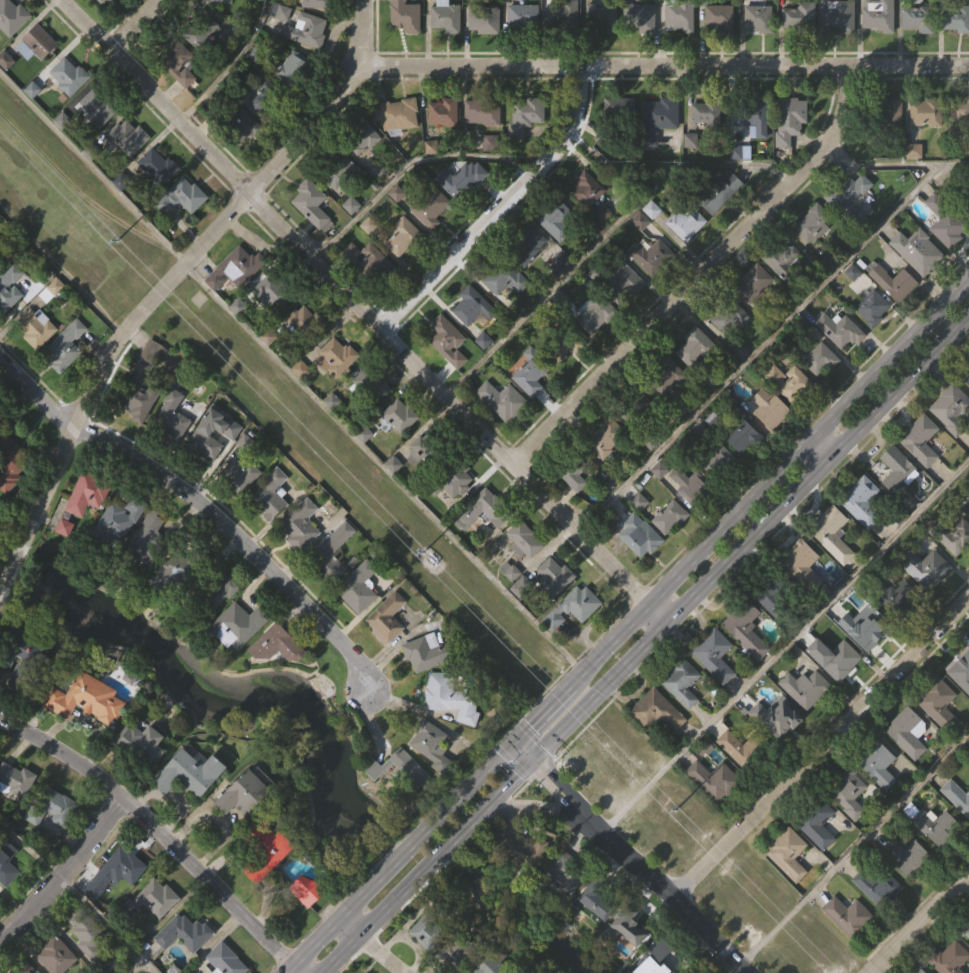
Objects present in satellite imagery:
building: (100, 1)
building: (216, 1)
building: (316, 4)
building: (282, 10)
building: (102, 14)
building: (562, 15)
building: (681, 15)
building: (878, 15)
building: (405, 16)
building: (445, 16)
building: (838, 16)
building: (11, 17)
building: (600, 17)
building: (638, 17)
building: (719, 17)
building: (758, 17)
building: (800, 17)
building: (521, 18)
building: (918, 18)
building: (483, 19)
building: (956, 19)
building: (221, 21)
road: (131, 24)
building: (199, 28)
building: (306, 30)
road: (365, 34)
building: (407, 41)
building: (38, 42)
building: (283, 43)
building: (639, 43)
building: (563, 44)
building: (881, 46)
building: (525, 47)
building: (682, 47)
building: (801, 47)
building: (13, 48)
building: (448, 48)
building: (605, 48)
building: (841, 48)
building: (721, 49)
building: (760, 49)
building: (920, 50)
building: (957, 50)
building: (486, 52)
building: (176, 60)
building: (310, 61)
building: (204, 62)
road: (229, 65)
building: (294, 68)
road: (373, 68)
building: (42, 73)
building: (68, 76)
building: (181, 92)
building: (267, 97)
building: (295, 98)
building: (76, 105)
building: (94, 109)
building: (483, 111)
building: (623, 112)
building: (927, 112)
building: (443, 113)
building: (706, 113)
building: (659, 114)
building: (752, 114)
building: (893, 114)
building: (395, 115)
building: (525, 116)
building: (958, 117)
building: (789, 120)
building: (241, 126)
building: (266, 129)
building: (127, 137)
building: (362, 137)
building: (98, 140)
building: (621, 140)
building: (894, 143)
building: (445, 144)
building: (485, 144)
building: (928, 144)
building: (967, 144)
building: (708, 145)
building: (399, 146)
building: (528, 147)
building: (755, 149)
building: (660, 150)
building: (792, 151)
building: (247, 155)
road: (675, 162)
road: (893, 164)
road: (95, 165)
road: (405, 167)
building: (156, 168)
building: (336, 168)
building: (129, 169)
building: (366, 169)
building: (693, 172)
building: (433, 178)
building: (461, 180)
building: (915, 182)
building: (719, 194)
building: (181, 197)
building: (591, 197)
building: (160, 198)
building: (341, 202)
building: (838, 203)
building: (312, 205)
building: (431, 206)
road: (500, 209)
building: (462, 210)
building: (556, 220)
building: (811, 222)
building: (686, 223)
building: (723, 225)
building: (946, 226)
building: (593, 227)
building: (184, 228)
building: (851, 229)
building: (313, 234)
building: (403, 236)
building: (433, 239)
power tower: (117, 241)
building: (653, 241)
building: (526, 245)
building: (559, 250)
building: (919, 252)
building: (689, 253)
building: (650, 257)
building: (814, 257)
building: (950, 261)
building: (368, 263)
building: (784, 264)
building: (404, 267)
building: (235, 269)
road: (697, 274)
building: (503, 276)
building: (529, 277)
road: (560, 279)
building: (616, 281)
building: (894, 281)
building: (753, 282)
building: (919, 282)
building: (9, 286)
building: (652, 287)
building: (784, 289)
building: (51, 290)
building: (367, 291)
building: (271, 292)
building: (563, 295)
building: (237, 300)
road: (353, 303)
building: (854, 303)
building: (471, 305)
building: (872, 308)
building: (507, 309)
building: (623, 311)
building: (595, 312)
building: (729, 313)
building: (896, 314)
building: (756, 315)
building: (11, 319)
building: (305, 322)
building: (274, 325)
building: (35, 327)
building: (843, 330)
building: (472, 336)
building: (556, 339)
building: (874, 339)
building: (447, 340)
building: (65, 345)
building: (596, 345)
building: (693, 346)
road: (757, 346)
building: (733, 347)
building: (304, 351)
building: (335, 356)
building: (820, 358)
building: (38, 359)
building: (842, 361)
road: (893, 361)
building: (531, 371)
building: (450, 372)
building: (714, 373)
building: (665, 374)
building: (966, 375)
building: (69, 377)
building: (695, 377)
building: (138, 378)
building: (563, 378)
building: (791, 383)
building: (368, 384)
road: (900, 387)
building: (339, 389)
building: (822, 390)
building: (502, 399)
building: (533, 404)
building: (635, 405)
building: (668, 408)
building: (770, 408)
building: (952, 408)
building: (151, 410)
building: (791, 413)
building: (171, 415)
building: (374, 415)
building: (399, 415)
building: (504, 431)
building: (334, 432)
building: (640, 432)
building: (205, 436)
building: (605, 436)
building: (742, 436)
building: (771, 439)
building: (919, 440)
building: (952, 440)
building: (401, 447)
road: (824, 448)
building: (174, 450)
building: (427, 450)
building: (9, 462)
building: (205, 464)
building: (723, 464)
building: (898, 464)
building: (573, 468)
building: (608, 468)
building: (745, 468)
building: (922, 471)
building: (239, 474)
building: (450, 478)
building: (423, 482)
building: (690, 484)
building: (87, 492)
building: (968, 493)
building: (11, 494)
building: (271, 494)
building: (898, 499)
building: (862, 501)
building: (242, 506)
building: (483, 509)
building: (576, 509)
building: (457, 513)
road: (202, 514)
building: (690, 514)
building: (669, 516)
building: (118, 519)
building: (303, 519)
road: (733, 523)
building: (90, 525)
building: (273, 527)
building: (830, 530)
building: (864, 533)
building: (641, 535)
building: (951, 535)
road: (749, 538)
building: (144, 539)
building: (523, 540)
building: (482, 543)
building: (672, 548)
building: (120, 554)
building: (330, 554)
power tower: (422, 555)
building: (303, 557)
building: (803, 564)
building: (643, 567)
building: (835, 567)
building: (926, 567)
building: (957, 567)
road: (14, 568)
building: (149, 570)
building: (171, 570)
building: (527, 571)
building: (555, 575)
building: (335, 584)
building: (358, 586)
building: (213, 594)
building: (805, 596)
building: (895, 597)
building: (927, 599)
building: (776, 600)
building: (512, 602)
building: (170, 606)
building: (572, 607)
road: (657, 613)
building: (522, 616)
building: (386, 617)
building: (360, 619)
building: (743, 623)
building: (236, 625)
building: (772, 626)
building: (898, 627)
building: (868, 629)
building: (575, 638)
road: (614, 640)
building: (275, 644)
building: (389, 649)
road: (786, 649)
building: (431, 652)
building: (714, 654)
building: (239, 657)
building: (868, 658)
building: (19, 659)
building: (748, 659)
building: (837, 659)
building: (961, 669)
building: (278, 676)
building: (682, 682)
building: (716, 686)
building: (806, 688)
building: (839, 690)
building: (441, 692)
road: (597, 692)
building: (85, 698)
building: (938, 702)
building: (963, 703)
road: (545, 711)
building: (656, 711)
building: (684, 713)
building: (467, 717)
building: (774, 719)
building: (808, 719)
building: (452, 729)
building: (89, 730)
building: (908, 732)
building: (940, 735)
building: (659, 743)
building: (431, 744)
building: (138, 746)
building: (743, 748)
road: (820, 748)
building: (777, 749)
road: (519, 755)
building: (910, 763)
building: (878, 764)
building: (397, 769)
building: (188, 771)
building: (145, 774)
building: (432, 775)
building: (740, 778)
building: (14, 779)
building: (713, 779)
building: (246, 790)
building: (848, 792)
building: (881, 796)
building: (956, 796)
road: (565, 799)
building: (401, 800)
building: (193, 803)
road: (530, 807)
building: (52, 808)
power tower: (675, 810)
building: (715, 810)
building: (17, 811)
building: (816, 822)
building: (850, 823)
building: (246, 825)
building: (957, 826)
building: (938, 827)
road: (157, 832)
road: (424, 835)
building: (62, 839)
building: (263, 850)
road: (442, 851)
road: (853, 852)
building: (519, 853)
building: (787, 853)
building: (820, 856)
building: (908, 856)
building: (942, 859)
building: (6, 863)
road: (637, 867)
building: (119, 869)
building: (567, 871)
road: (65, 874)
building: (272, 878)
building: (523, 883)
building: (790, 884)
building: (908, 886)
building: (878, 887)
building: (305, 890)
building: (8, 894)
building: (152, 899)
building: (596, 900)
building: (117, 904)
building: (567, 906)
building: (846, 915)
building: (880, 917)
building: (968, 917)
road: (916, 919)
building: (308, 921)
road: (107, 927)
building: (627, 928)
building: (159, 929)
building: (427, 931)
building: (966, 931)
building: (85, 932)
road: (347, 932)
building: (181, 934)
building: (599, 934)
road: (705, 936)
road: (316, 947)
building: (849, 947)
building: (54, 955)
road: (340, 956)
road: (377, 956)
building: (631, 956)
building: (453, 957)
building: (88, 959)
building: (949, 959)
building: (224, 960)
building: (428, 961)
building: (186, 962)
building: (967, 963)
road: (134, 966)
building: (489, 966)
building: (23, 968)
building: (662, 971)
building: (921, 971)
road: (293, 972)
road: (294, 972)

